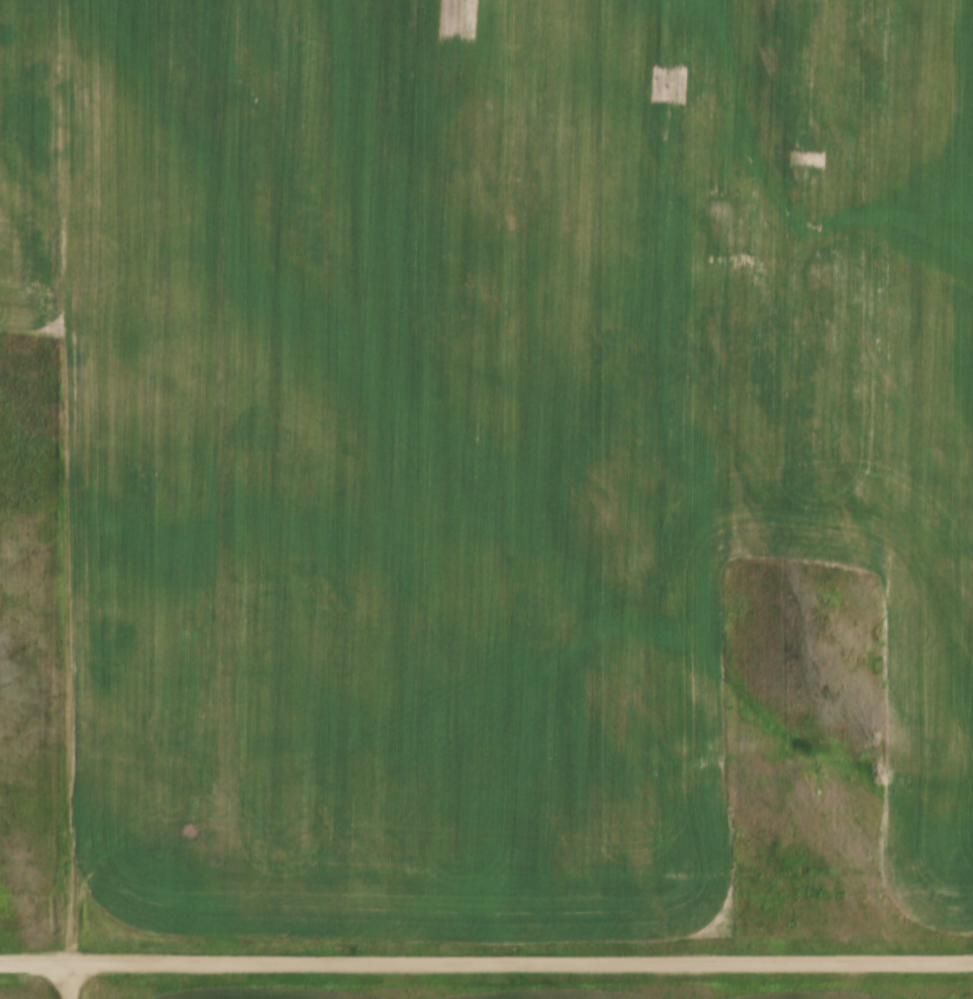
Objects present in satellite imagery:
road: (486, 965)
road: (75, 981)

